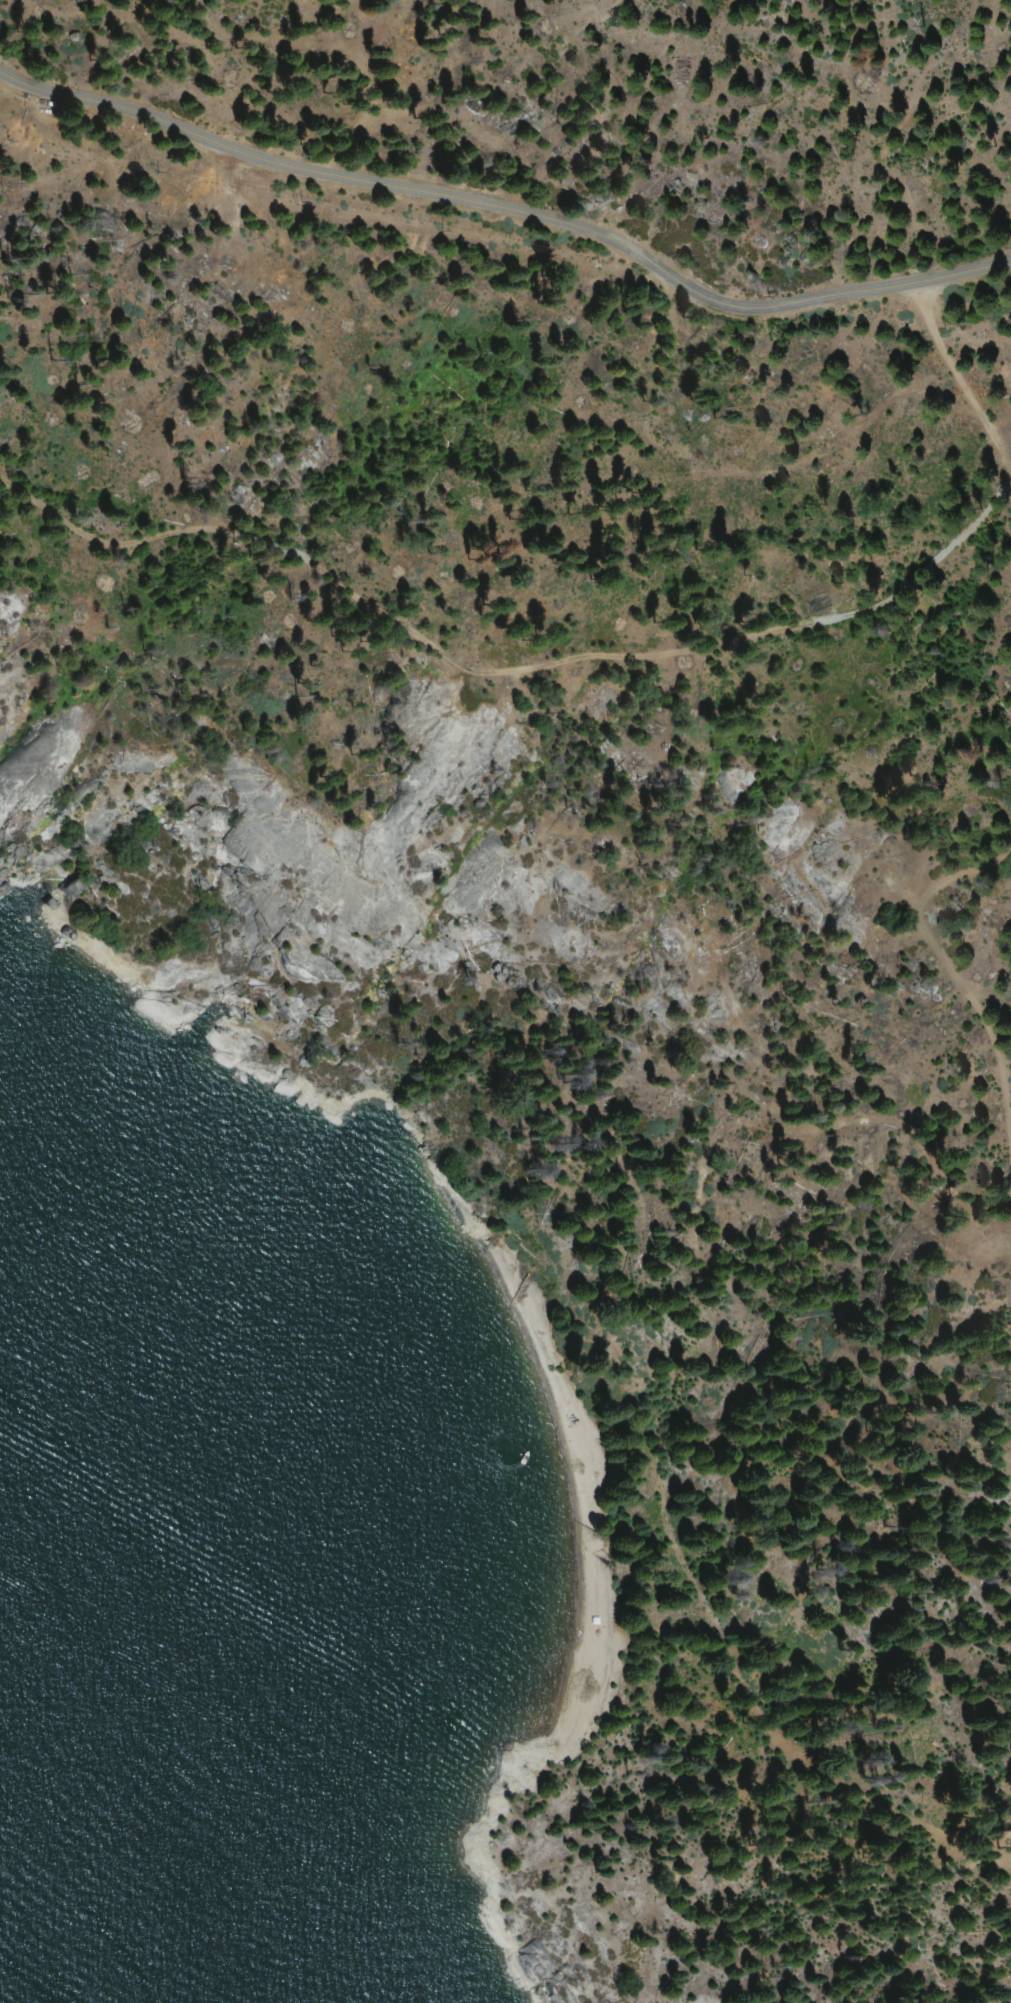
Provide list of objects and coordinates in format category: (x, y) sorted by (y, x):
road: (510, 208)
road: (959, 384)
road: (1008, 491)
road: (497, 664)
road: (957, 979)
road: (1006, 1841)

